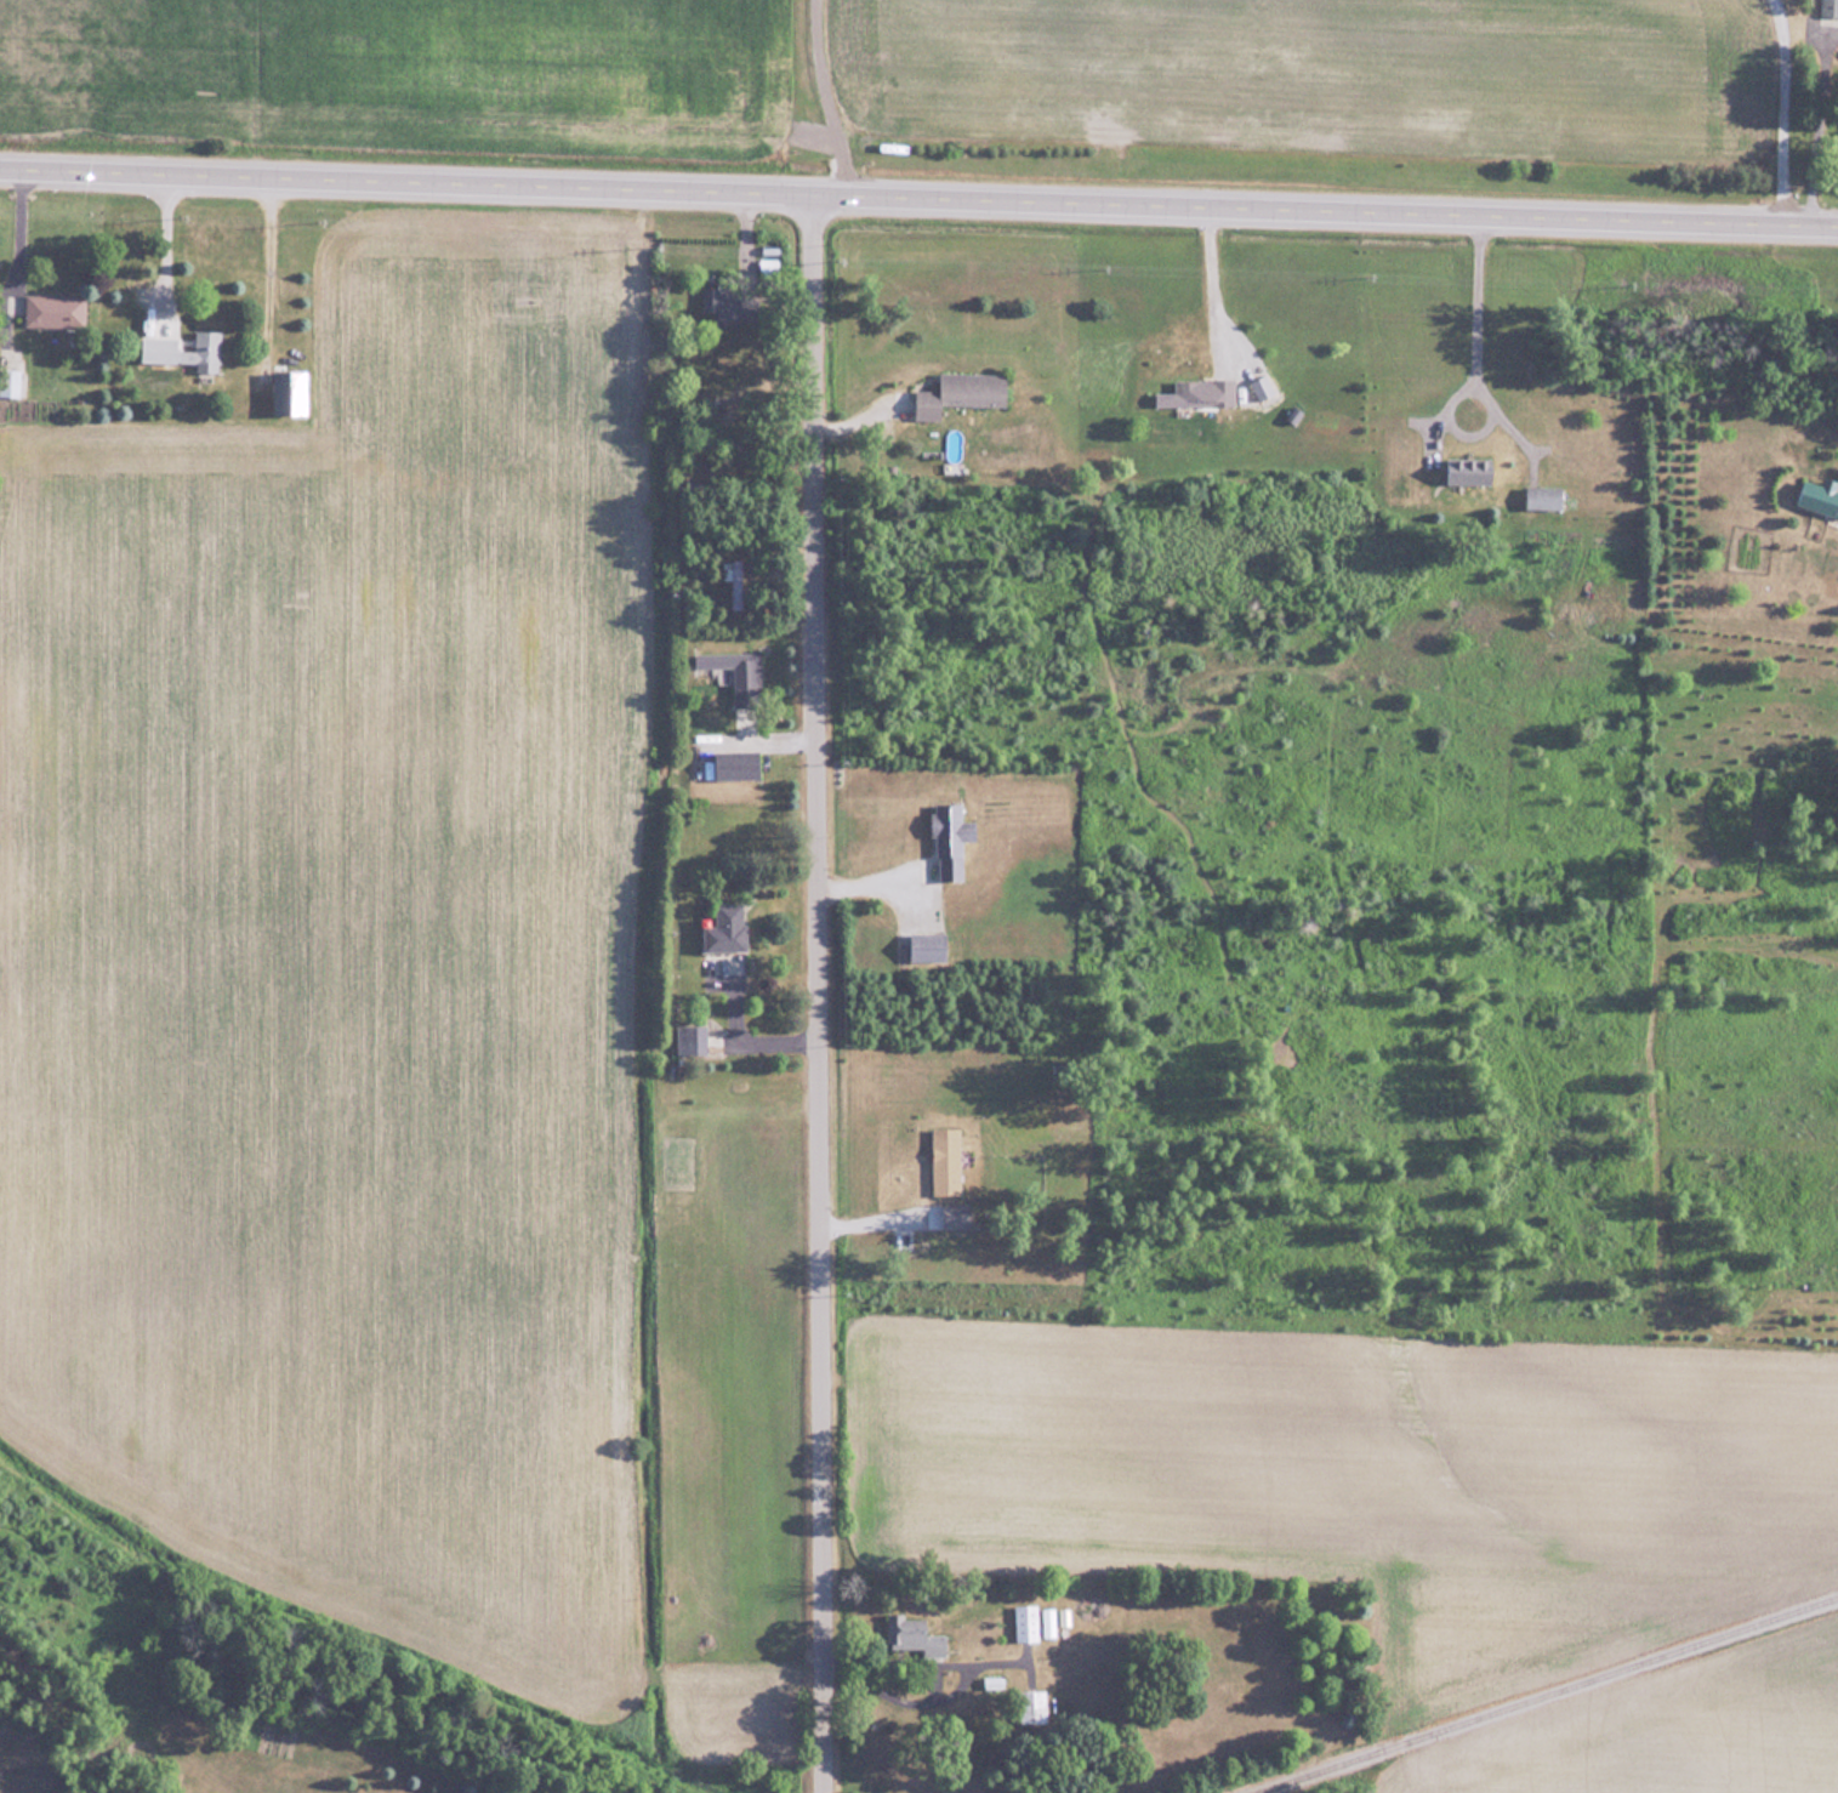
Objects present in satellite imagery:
building: (1828, 7)
road: (827, 99)
road: (1777, 114)
road: (1804, 126)
road: (918, 204)
road: (10, 237)
road: (155, 251)
road: (1212, 294)
building: (725, 304)
building: (55, 309)
road: (1474, 342)
building: (188, 351)
building: (292, 391)
building: (962, 392)
building: (1200, 392)
building: (1472, 469)
building: (1544, 495)
building: (1819, 497)
building: (732, 579)
building: (738, 672)
building: (738, 763)
building: (952, 838)
building: (728, 928)
building: (928, 944)
road: (816, 997)
building: (693, 1038)
building: (946, 1160)
building: (956, 1216)
building: (1026, 1622)
building: (909, 1635)
railway: (1555, 1696)
building: (1034, 1706)

